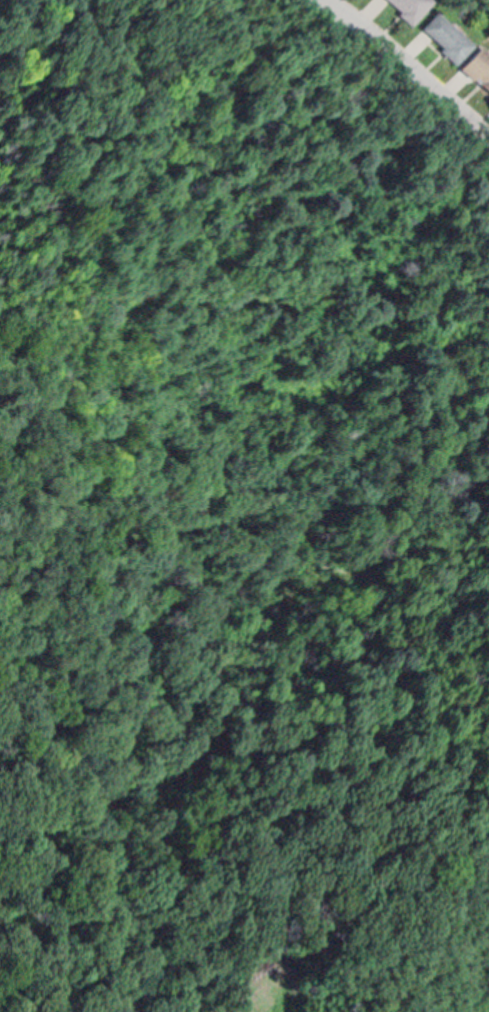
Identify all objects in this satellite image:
building: (409, 4)
building: (449, 29)
building: (479, 63)
road: (386, 81)

